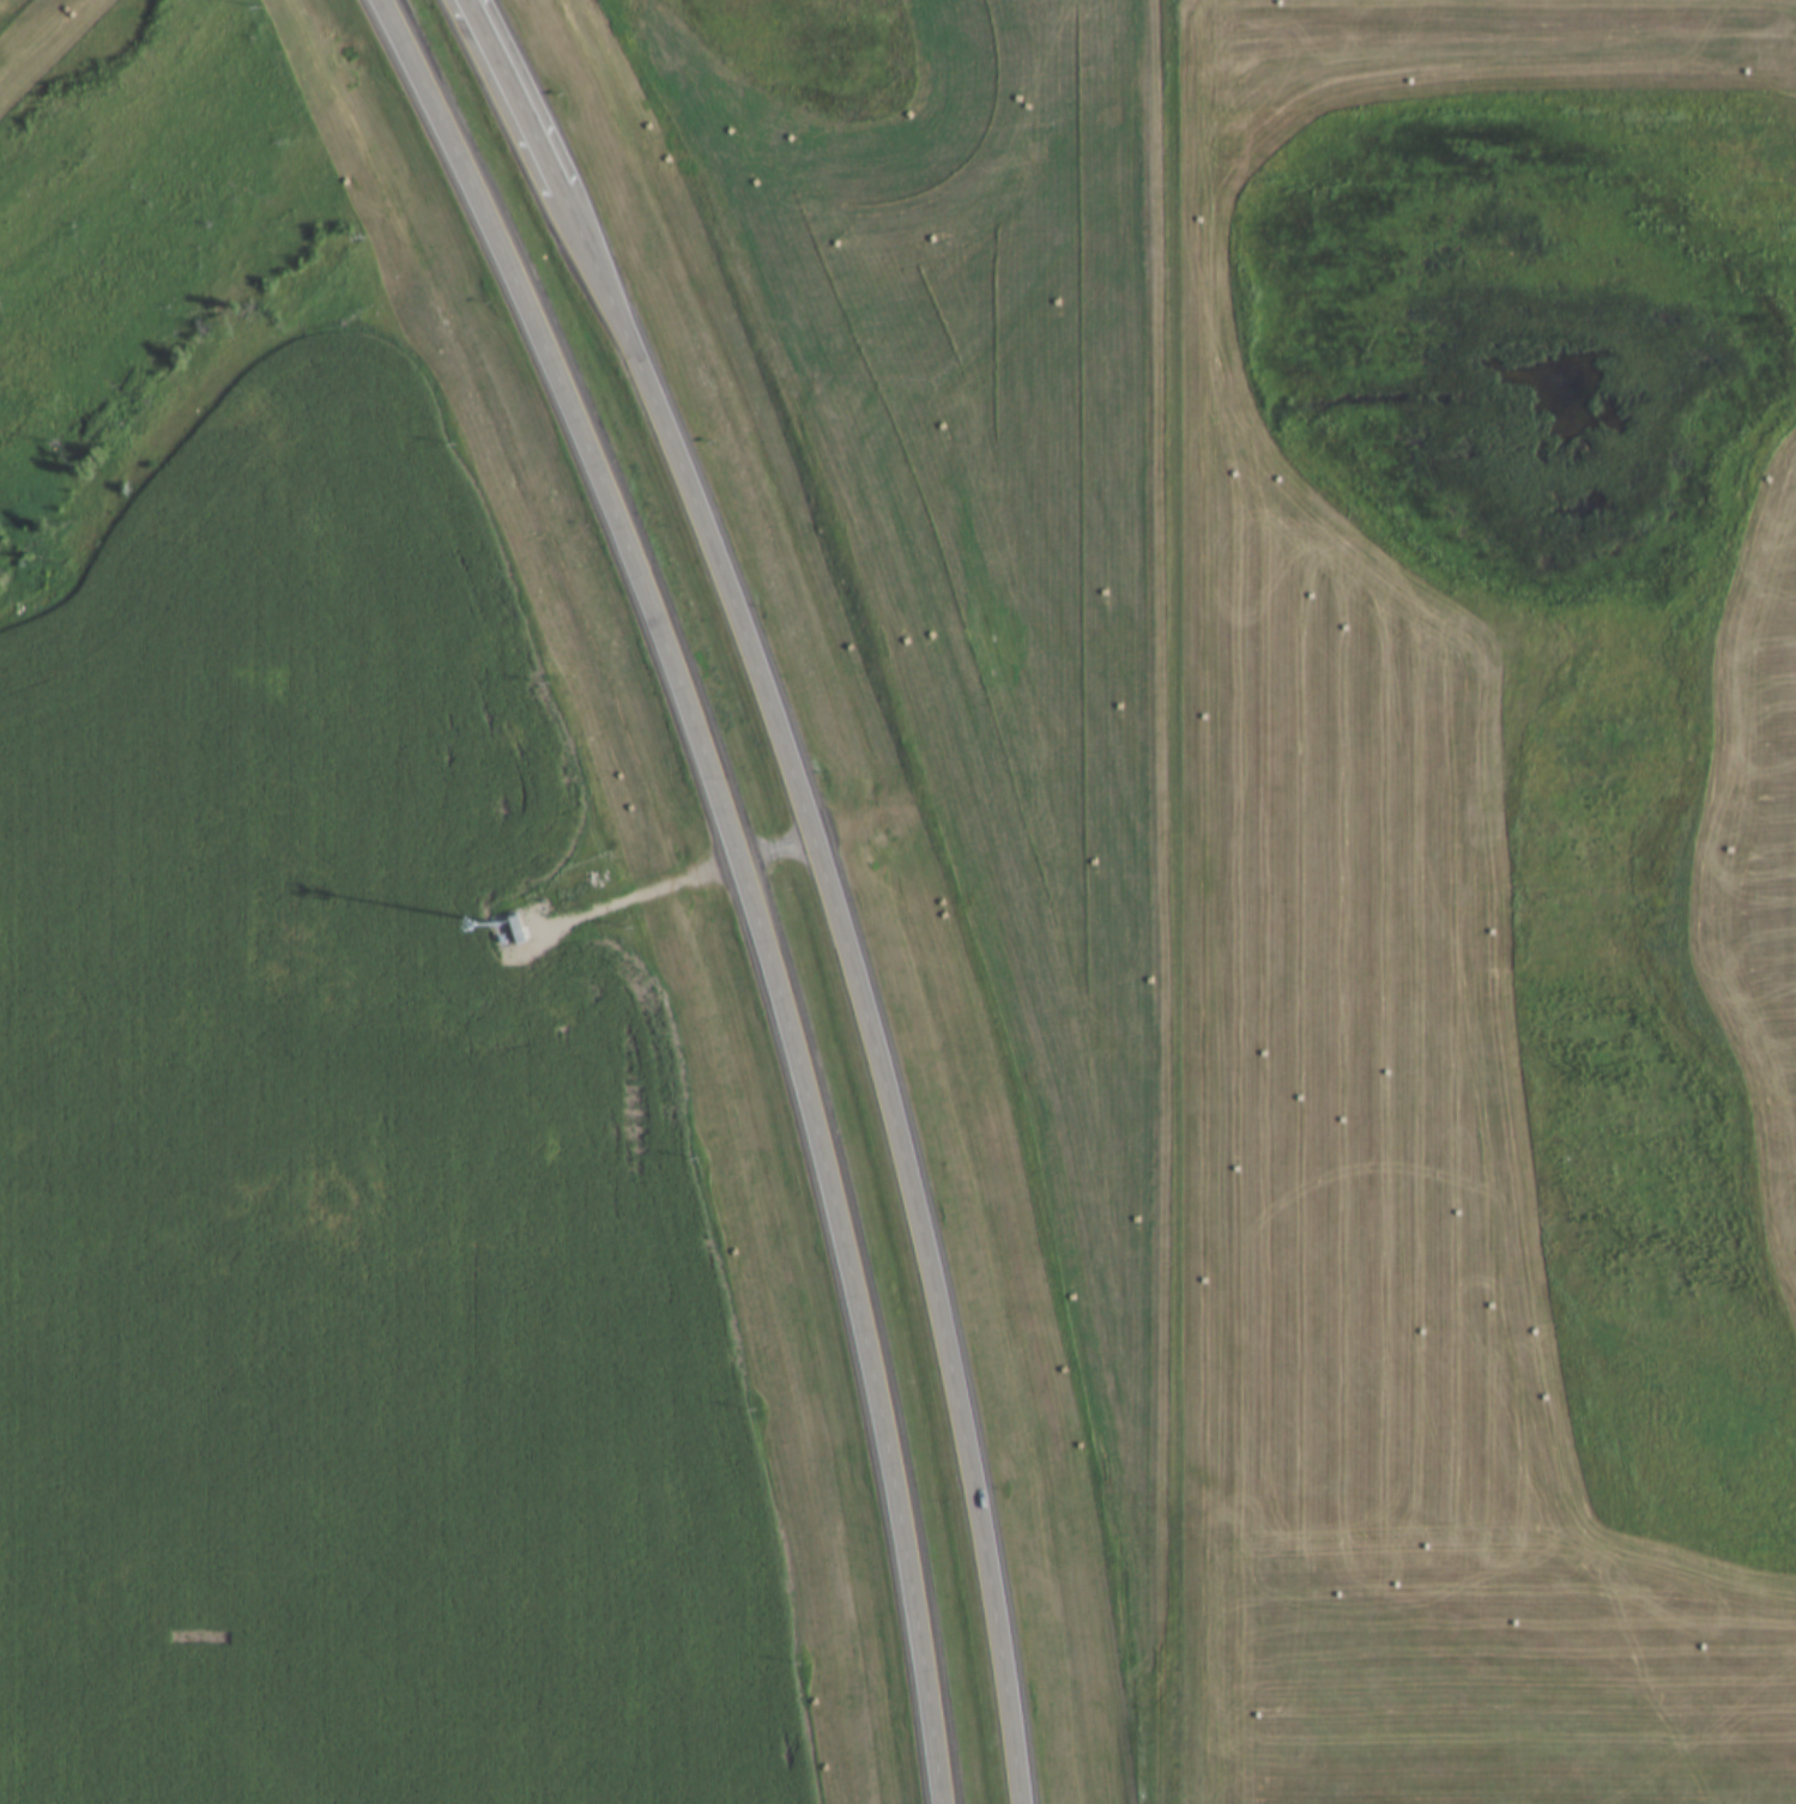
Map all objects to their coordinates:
road: (513, 90)
road: (500, 250)
road: (649, 388)
quarry: (1395, 678)
road: (773, 853)
road: (616, 904)
building: (518, 931)
road: (817, 1144)
road: (906, 1194)
road: (1179, 1415)

